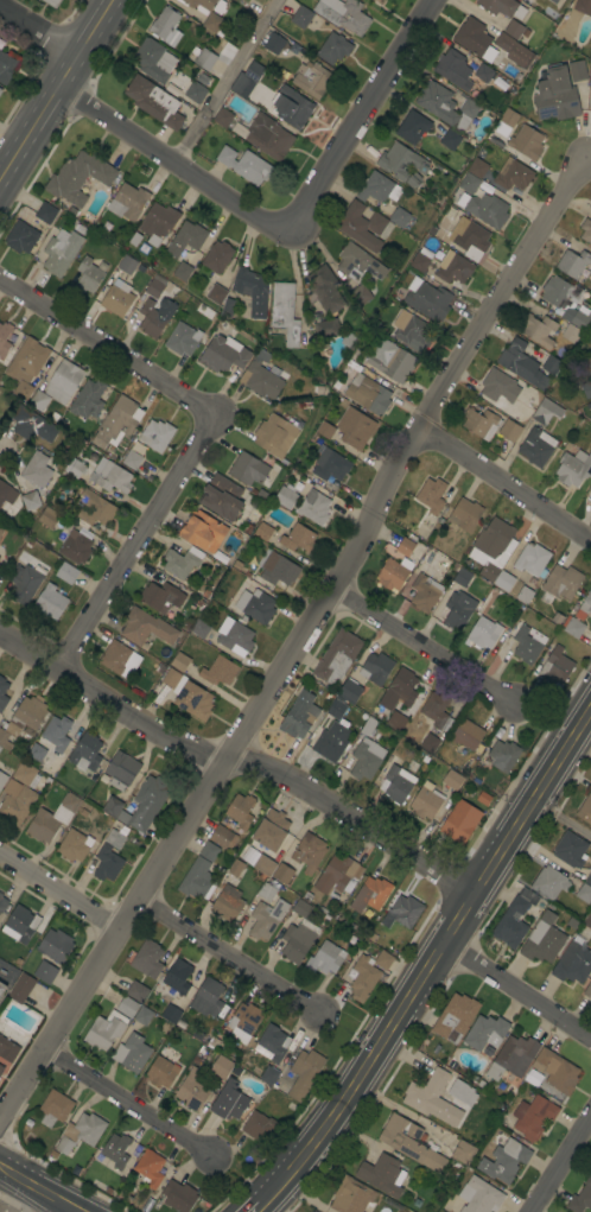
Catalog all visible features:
building: (373, 0)
building: (377, 0)
building: (558, 0)
building: (553, 1)
building: (51, 2)
building: (198, 5)
building: (502, 7)
building: (585, 7)
building: (343, 14)
building: (301, 17)
building: (214, 24)
building: (165, 27)
building: (515, 30)
building: (471, 37)
building: (273, 44)
building: (293, 47)
building: (333, 49)
building: (513, 50)
building: (150, 59)
building: (205, 59)
building: (7, 66)
building: (577, 70)
building: (460, 71)
building: (590, 71)
building: (284, 74)
road: (225, 76)
building: (202, 78)
building: (312, 78)
building: (247, 81)
road: (53, 84)
building: (171, 89)
building: (0, 90)
building: (195, 91)
building: (555, 95)
building: (590, 101)
building: (153, 102)
building: (446, 106)
building: (291, 107)
road: (358, 110)
building: (508, 116)
building: (222, 118)
building: (412, 127)
road: (142, 128)
building: (265, 135)
building: (450, 140)
building: (526, 142)
road: (587, 156)
building: (401, 161)
building: (246, 165)
building: (477, 167)
building: (513, 174)
building: (78, 177)
building: (413, 179)
building: (468, 183)
building: (485, 186)
building: (379, 189)
building: (127, 202)
building: (484, 209)
building: (45, 212)
building: (399, 217)
building: (158, 223)
building: (363, 226)
building: (80, 228)
building: (432, 230)
building: (586, 230)
building: (21, 237)
building: (134, 239)
building: (186, 239)
building: (469, 239)
building: (61, 252)
building: (217, 256)
building: (420, 260)
building: (573, 262)
building: (358, 264)
building: (127, 265)
building: (453, 267)
building: (182, 271)
building: (88, 275)
building: (153, 288)
building: (325, 290)
building: (252, 291)
building: (216, 294)
building: (361, 294)
building: (399, 294)
building: (116, 299)
building: (427, 299)
building: (565, 300)
building: (228, 307)
building: (285, 312)
building: (151, 318)
building: (350, 321)
road: (107, 328)
building: (324, 328)
building: (411, 329)
building: (538, 329)
building: (571, 332)
building: (5, 338)
building: (182, 340)
building: (223, 354)
building: (262, 354)
building: (390, 361)
building: (521, 363)
building: (551, 366)
building: (26, 367)
building: (587, 367)
building: (261, 379)
building: (63, 381)
building: (498, 388)
building: (586, 389)
building: (367, 393)
building: (88, 399)
building: (38, 400)
building: (546, 411)
building: (116, 423)
building: (479, 423)
building: (32, 425)
building: (355, 427)
building: (325, 430)
building: (509, 431)
building: (155, 434)
building: (275, 436)
building: (536, 446)
building: (132, 459)
building: (330, 465)
building: (573, 468)
building: (247, 469)
building: (36, 470)
building: (102, 475)
road: (503, 483)
building: (293, 487)
building: (6, 493)
building: (261, 493)
building: (434, 495)
building: (221, 497)
building: (285, 497)
building: (30, 501)
building: (313, 507)
building: (93, 510)
building: (465, 515)
building: (47, 518)
road: (134, 531)
building: (202, 531)
building: (262, 532)
building: (298, 539)
building: (493, 542)
building: (74, 546)
building: (221, 558)
building: (532, 559)
building: (182, 561)
building: (395, 564)
building: (0, 567)
building: (278, 570)
building: (489, 571)
building: (66, 573)
building: (462, 577)
building: (503, 580)
building: (25, 582)
building: (559, 584)
building: (422, 594)
building: (523, 595)
building: (160, 597)
building: (49, 603)
building: (255, 605)
building: (584, 608)
building: (458, 609)
building: (145, 627)
building: (572, 627)
building: (199, 629)
building: (483, 633)
building: (236, 637)
road: (295, 637)
building: (526, 642)
road: (422, 643)
building: (114, 656)
building: (337, 656)
building: (180, 662)
building: (555, 667)
building: (375, 668)
building: (218, 671)
building: (171, 678)
building: (349, 691)
building: (399, 691)
building: (2, 697)
building: (193, 700)
building: (336, 707)
building: (434, 710)
building: (299, 715)
building: (23, 718)
road: (544, 718)
building: (396, 722)
building: (368, 726)
building: (56, 734)
building: (466, 735)
building: (332, 741)
building: (430, 743)
building: (0, 748)
building: (85, 750)
building: (36, 751)
building: (503, 755)
building: (366, 759)
road: (237, 760)
building: (121, 770)
building: (24, 773)
building: (2, 779)
building: (452, 780)
building: (396, 785)
building: (34, 787)
building: (15, 801)
building: (426, 801)
building: (70, 802)
building: (146, 804)
building: (112, 806)
building: (585, 810)
building: (240, 811)
building: (83, 813)
road: (561, 817)
building: (42, 825)
building: (457, 827)
building: (271, 830)
building: (116, 837)
building: (222, 837)
building: (72, 845)
building: (570, 850)
building: (209, 851)
building: (309, 852)
building: (107, 863)
building: (265, 865)
building: (235, 868)
building: (282, 874)
building: (337, 876)
building: (196, 878)
building: (589, 880)
building: (548, 882)
road: (58, 890)
building: (266, 891)
building: (370, 894)
building: (584, 894)
building: (2, 902)
building: (227, 903)
building: (300, 908)
building: (401, 912)
building: (266, 919)
building: (587, 920)
building: (21, 922)
building: (510, 924)
building: (542, 939)
building: (295, 940)
building: (55, 945)
road: (228, 953)
road: (433, 953)
building: (326, 957)
building: (147, 959)
building: (383, 960)
building: (572, 963)
building: (45, 972)
building: (363, 978)
building: (174, 979)
building: (1, 988)
building: (20, 988)
building: (587, 990)
building: (136, 991)
road: (516, 991)
building: (206, 997)
building: (127, 1008)
building: (171, 1014)
building: (142, 1016)
building: (455, 1017)
building: (240, 1022)
road: (349, 1027)
building: (104, 1030)
building: (485, 1032)
building: (272, 1043)
building: (7, 1049)
building: (131, 1053)
building: (513, 1058)
building: (221, 1066)
building: (1, 1068)
building: (555, 1071)
building: (161, 1072)
building: (304, 1073)
building: (268, 1075)
building: (191, 1091)
building: (425, 1091)
building: (460, 1092)
road: (127, 1100)
building: (234, 1100)
building: (55, 1108)
building: (533, 1116)
building: (259, 1127)
building: (81, 1132)
building: (409, 1143)
building: (116, 1150)
building: (463, 1153)
building: (504, 1161)
building: (150, 1168)
road: (565, 1170)
road: (240, 1174)
building: (382, 1174)
road: (39, 1188)
building: (108, 1189)
building: (178, 1195)
building: (351, 1195)
building: (479, 1195)
building: (580, 1198)
road: (258, 1204)
building: (312, 1211)
building: (313, 1211)

